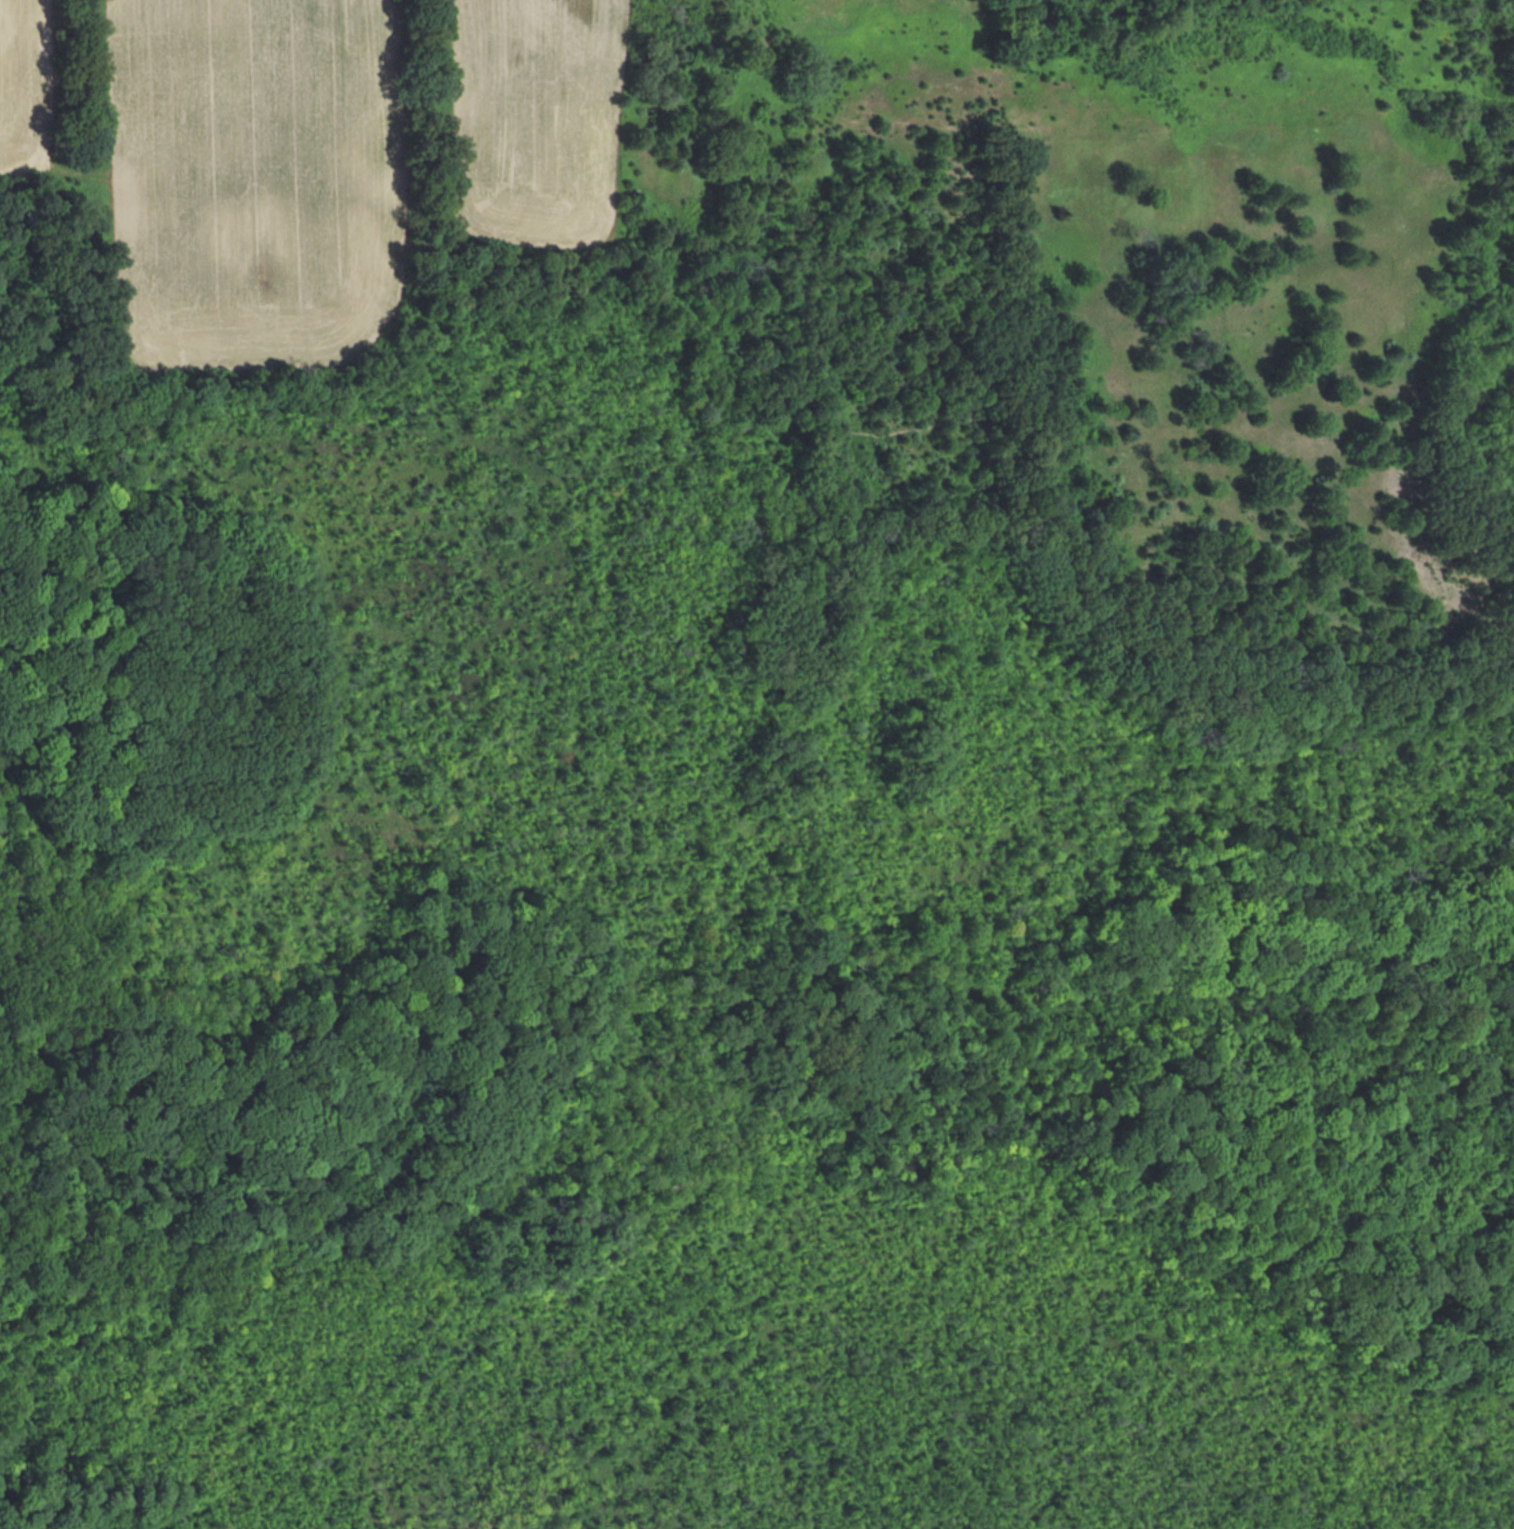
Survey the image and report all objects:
crop: (24, 87)
road: (634, 101)
crop: (539, 118)
road: (1187, 132)
crop: (255, 179)
road: (630, 190)
road: (1095, 236)
road: (591, 247)
road: (662, 247)
road: (369, 360)
road: (269, 376)
road: (208, 382)
road: (750, 400)
road: (990, 479)
road: (741, 482)
road: (817, 483)
road: (897, 543)
road: (834, 560)
road: (791, 670)
park: (757, 764)
road: (20, 1065)
road: (153, 1175)
road: (1100, 1186)
road: (680, 1187)
road: (281, 1251)
road: (174, 1509)

